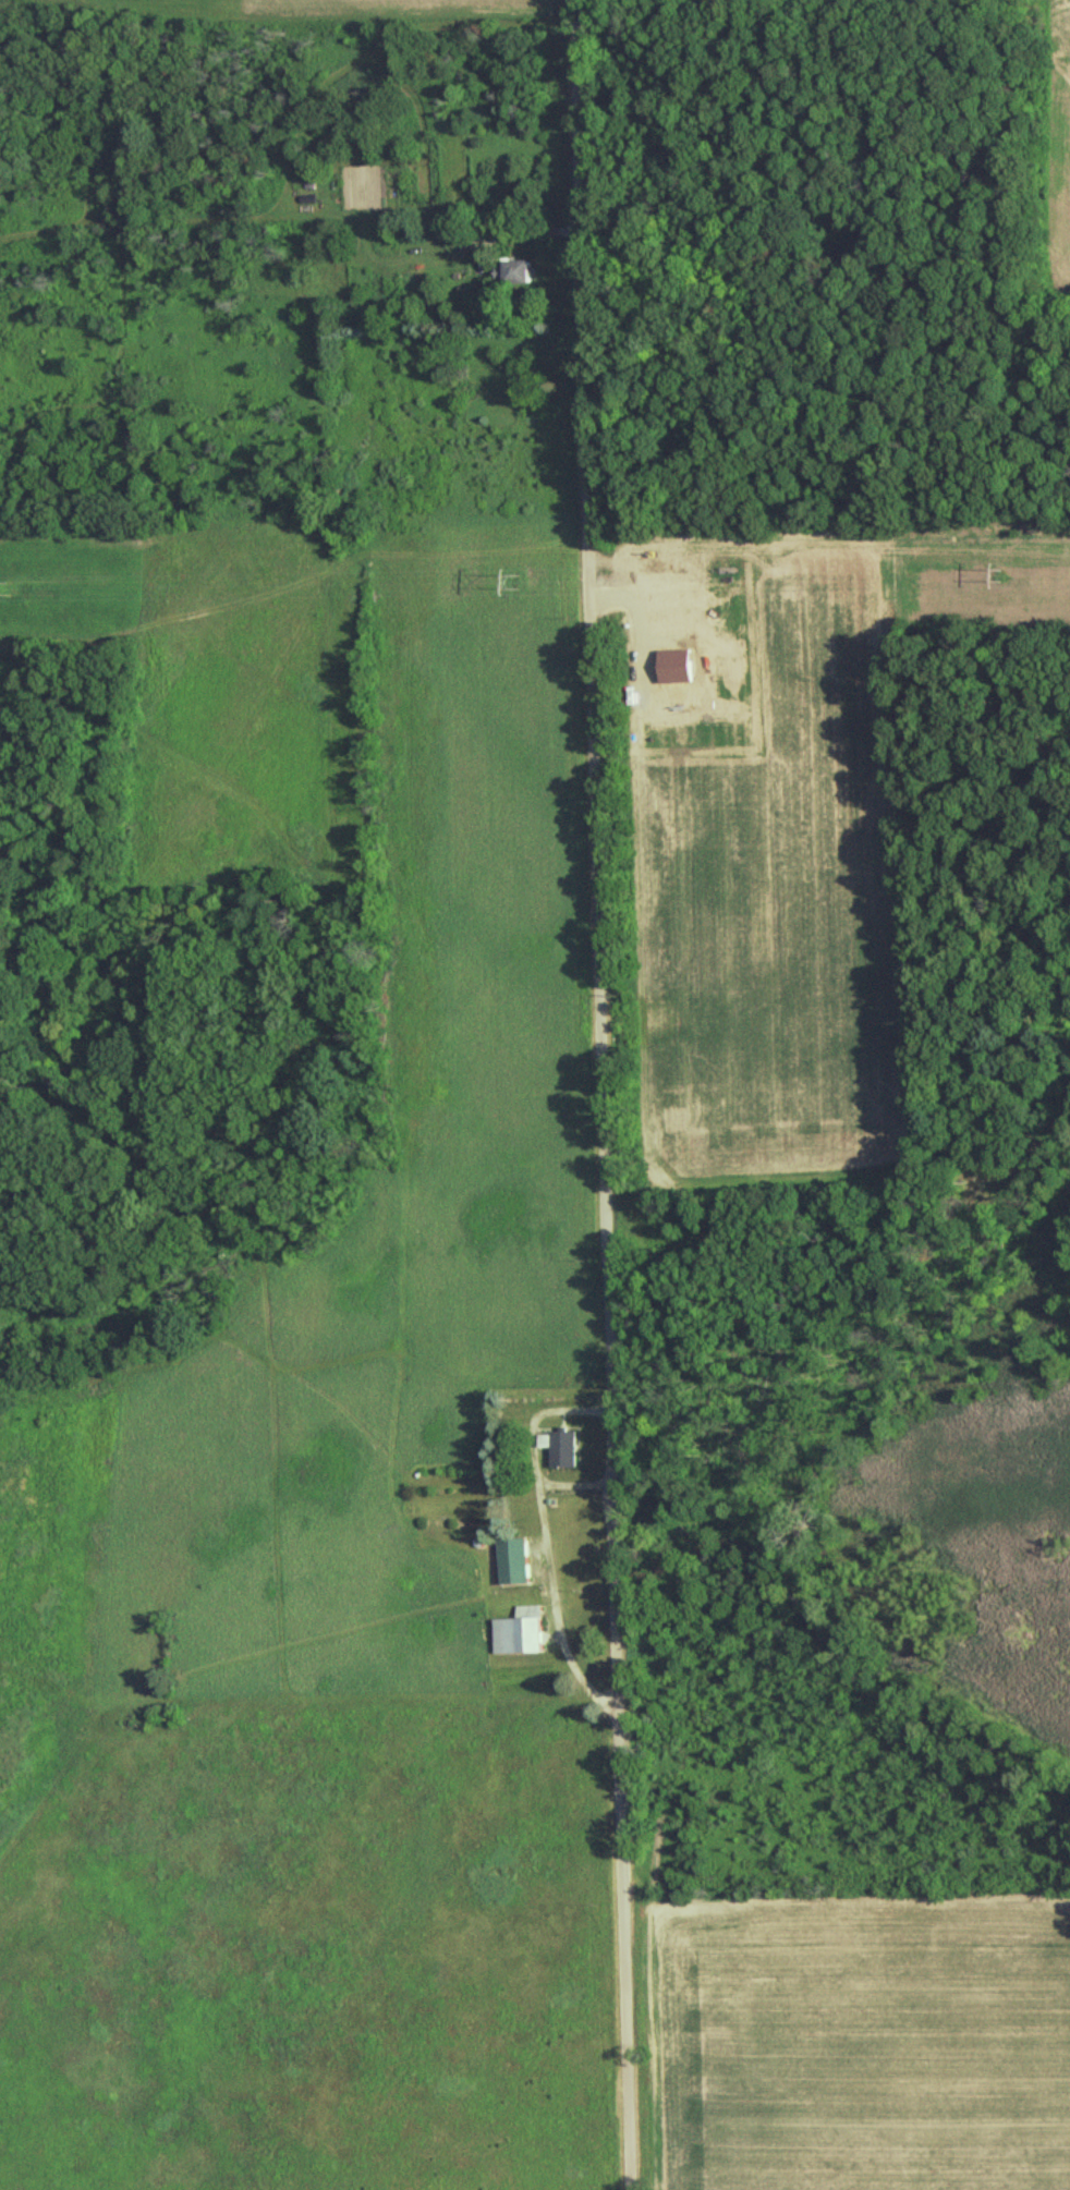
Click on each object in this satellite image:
power tower: (996, 577)
power tower: (13, 581)
power tower: (528, 585)
road: (597, 1094)
building: (559, 1447)
building: (510, 1560)
building: (518, 1630)

